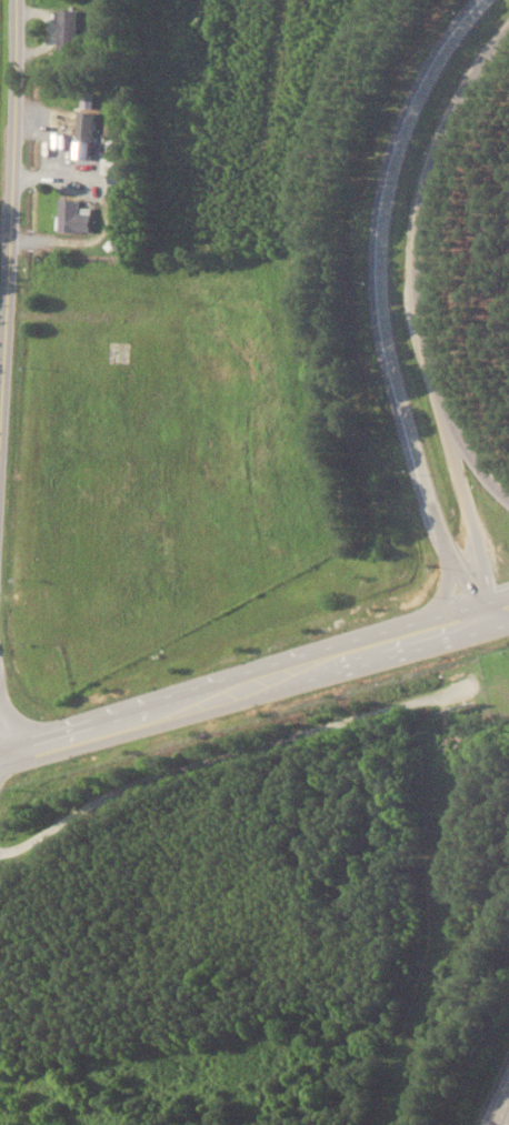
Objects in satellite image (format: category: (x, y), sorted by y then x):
building: (68, 29)
building: (82, 120)
building: (111, 167)
building: (73, 218)
road: (11, 225)
road: (421, 263)
road: (389, 303)
road: (466, 472)
road: (498, 611)
road: (387, 643)
road: (143, 715)
road: (220, 760)
road: (508, 1124)

